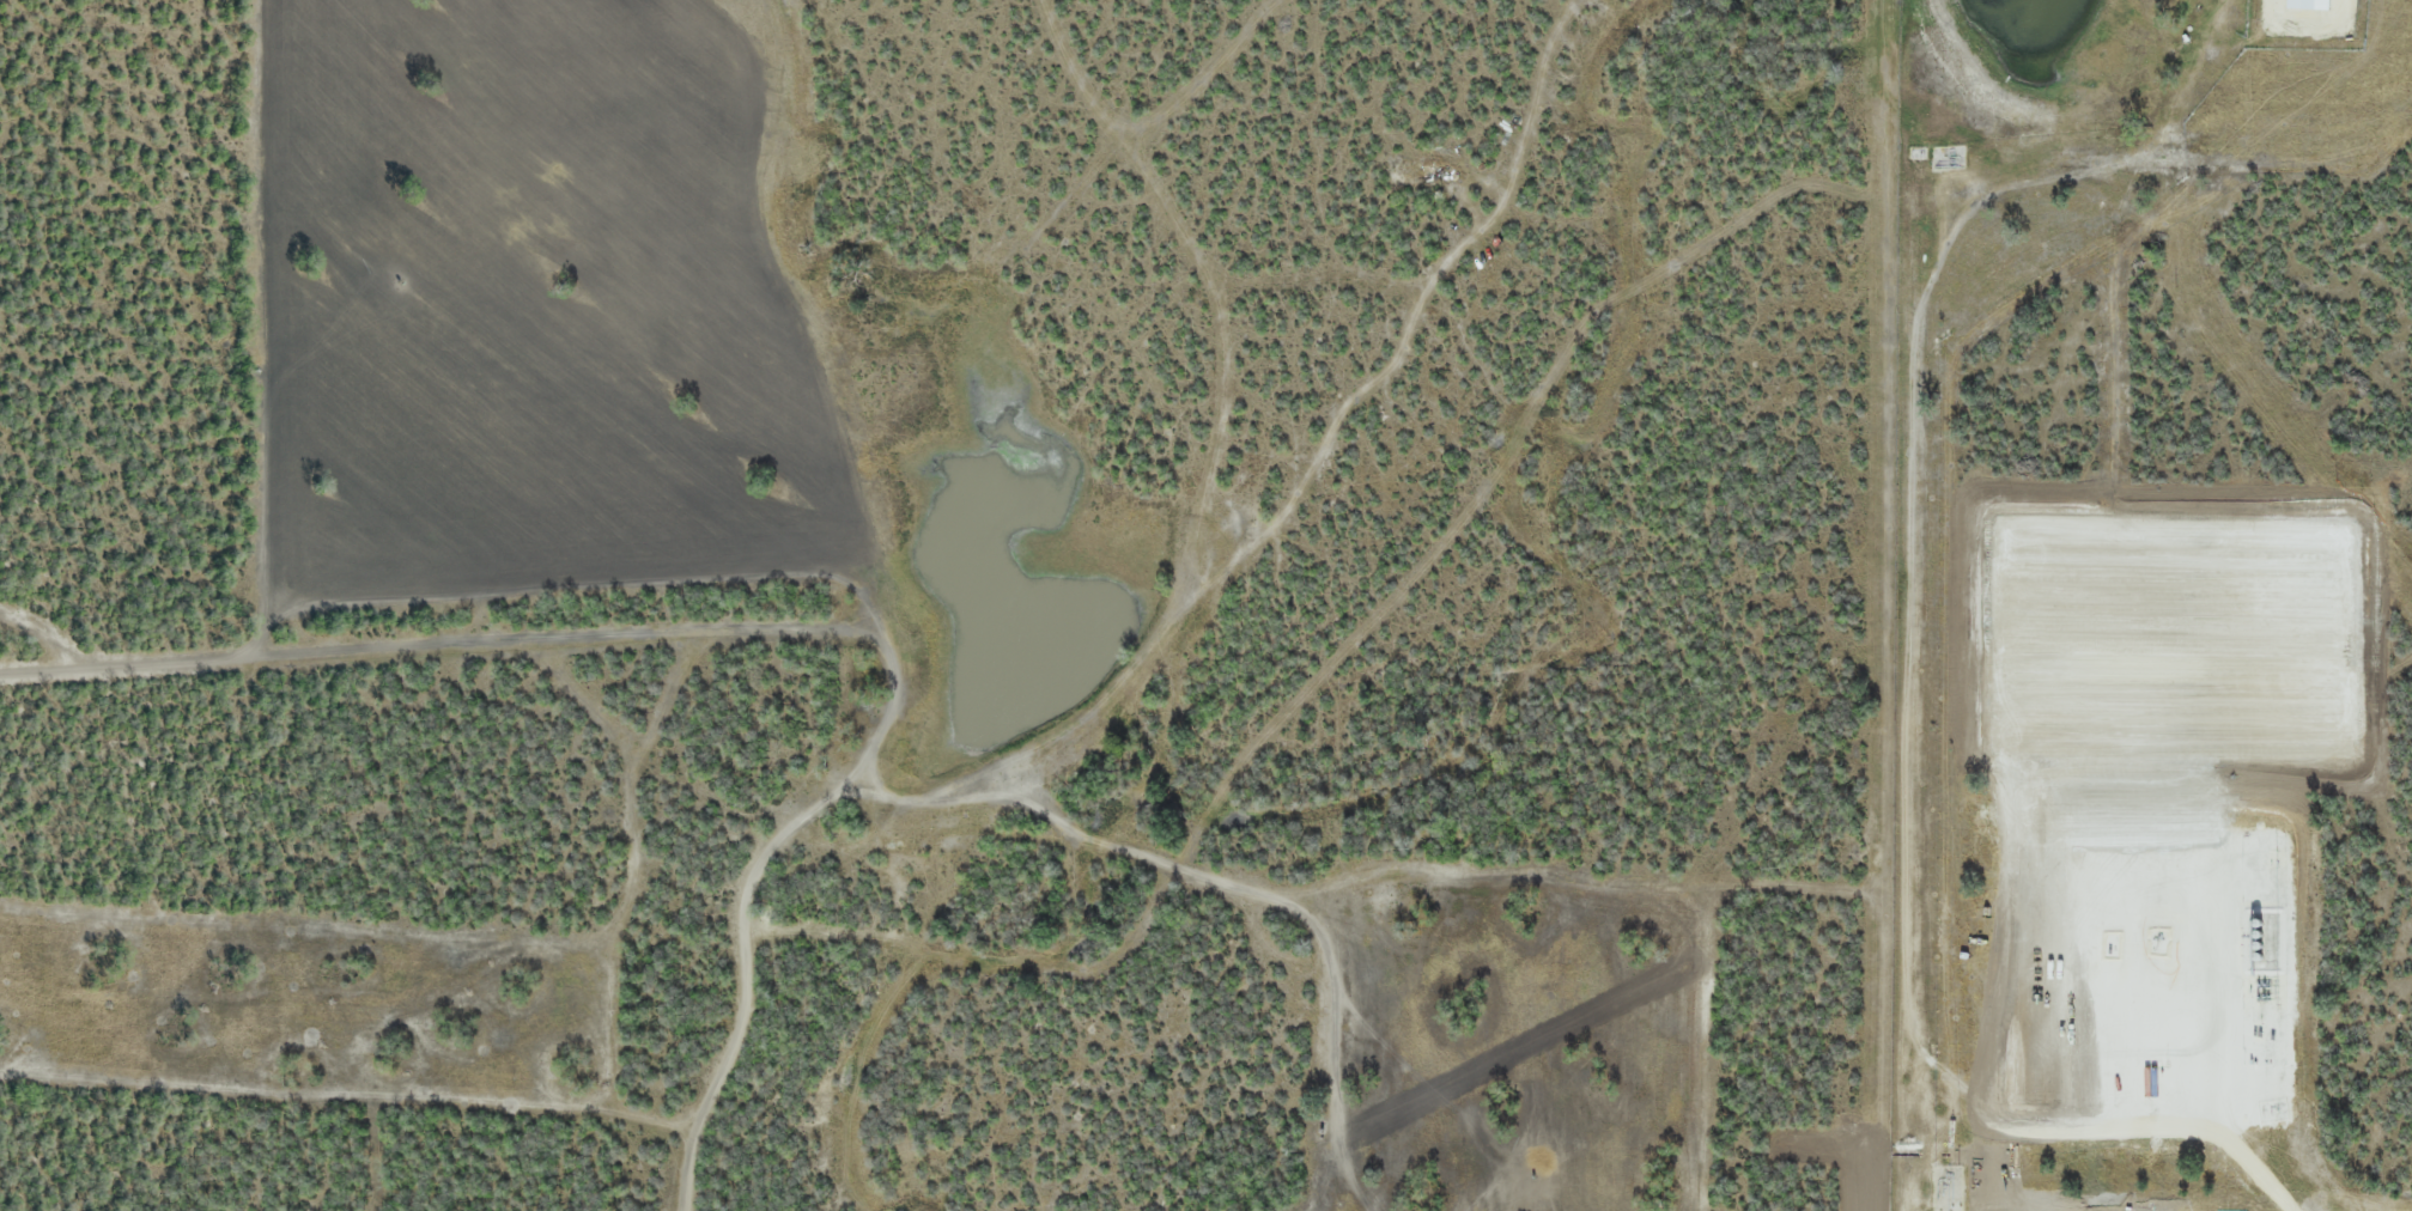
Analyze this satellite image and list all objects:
building: (2310, 4)
road: (2248, 1154)

